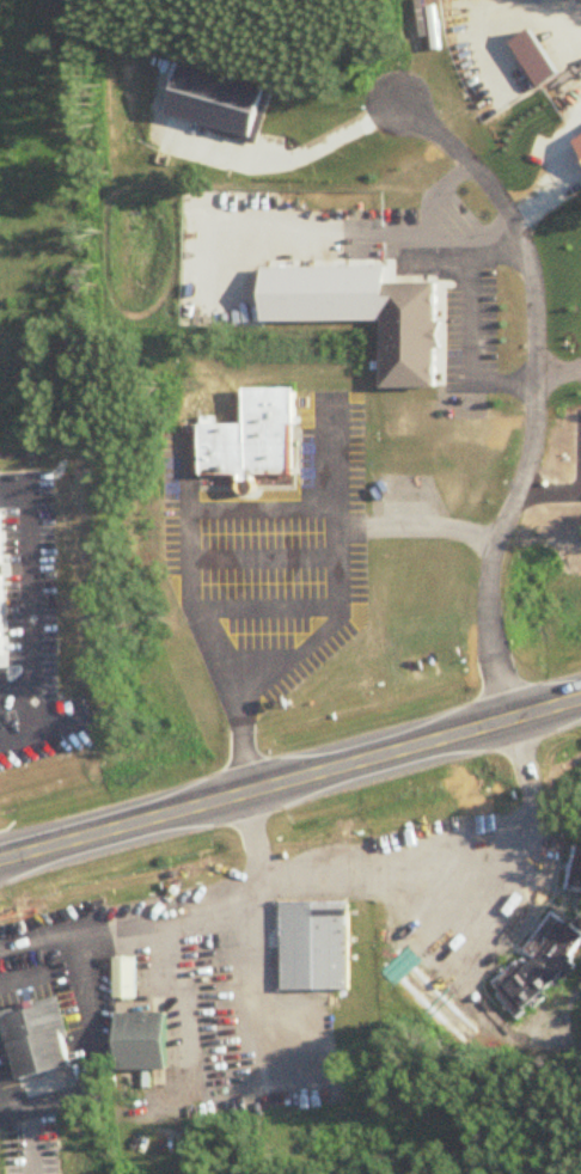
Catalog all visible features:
building: (277, 12)
road: (488, 25)
road: (294, 33)
road: (344, 47)
road: (288, 48)
building: (522, 63)
road: (513, 87)
building: (204, 106)
road: (557, 122)
road: (253, 129)
road: (194, 133)
road: (153, 135)
building: (577, 135)
road: (313, 141)
road: (565, 141)
road: (563, 167)
road: (434, 194)
road: (351, 228)
road: (391, 273)
building: (322, 281)
road: (464, 318)
building: (406, 328)
road: (452, 362)
road: (557, 367)
road: (574, 368)
road: (530, 386)
building: (256, 434)
road: (301, 444)
road: (332, 447)
road: (264, 473)
road: (189, 506)
road: (393, 506)
road: (261, 544)
road: (504, 581)
building: (4, 586)
road: (30, 592)
road: (271, 595)
road: (326, 625)
road: (17, 673)
road: (20, 707)
road: (290, 781)
road: (440, 833)
road: (249, 834)
road: (568, 860)
building: (579, 874)
road: (549, 903)
road: (133, 917)
building: (559, 936)
building: (314, 940)
road: (477, 960)
road: (497, 960)
building: (123, 971)
road: (263, 976)
building: (525, 977)
building: (33, 1031)
building: (141, 1033)
road: (23, 1127)

